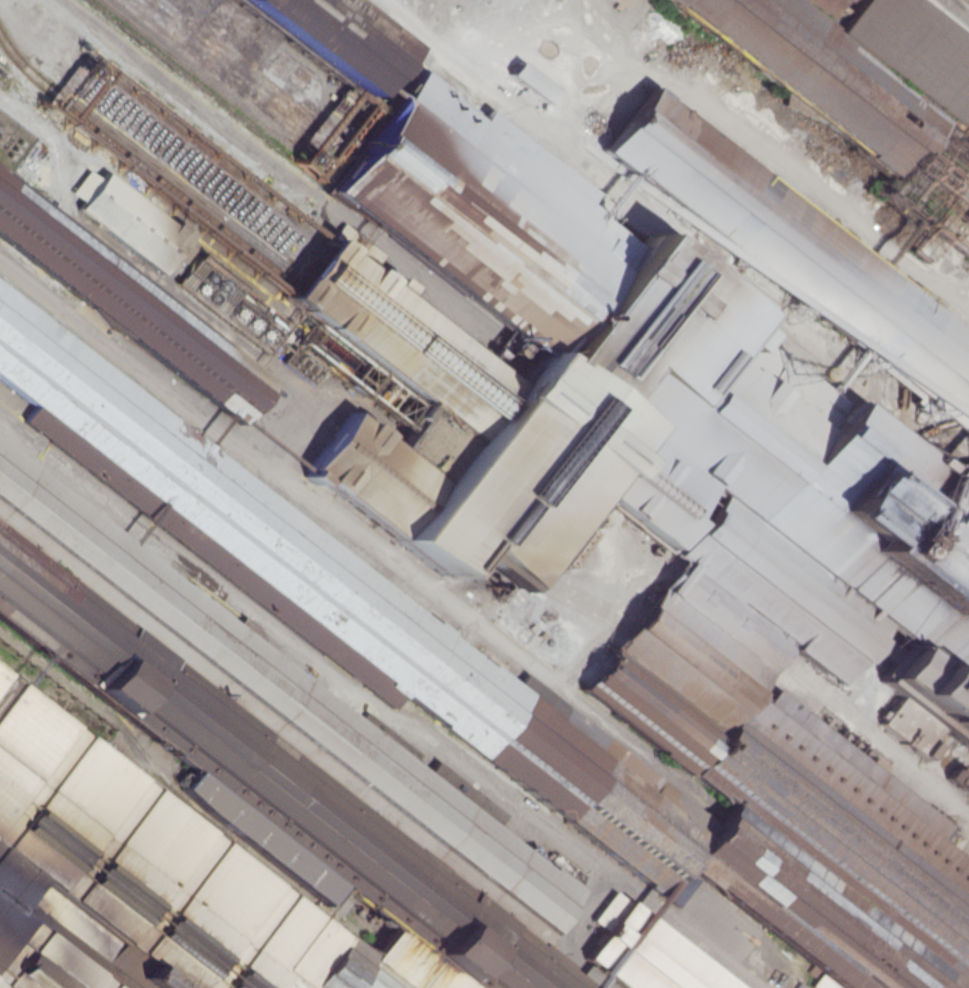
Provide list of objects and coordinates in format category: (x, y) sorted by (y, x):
railway: (968, 0)
building: (619, 4)
railway: (962, 6)
railway: (960, 7)
railway: (947, 17)
road: (942, 20)
building: (322, 39)
building: (844, 64)
building: (529, 83)
railway: (214, 86)
power substation: (13, 140)
railway: (138, 149)
railway: (139, 161)
building: (290, 196)
railway: (667, 218)
building: (965, 220)
railway: (668, 242)
building: (794, 254)
building: (127, 304)
building: (797, 521)
building: (583, 536)
road: (374, 704)
railway: (156, 777)
building: (225, 802)
building: (644, 952)

